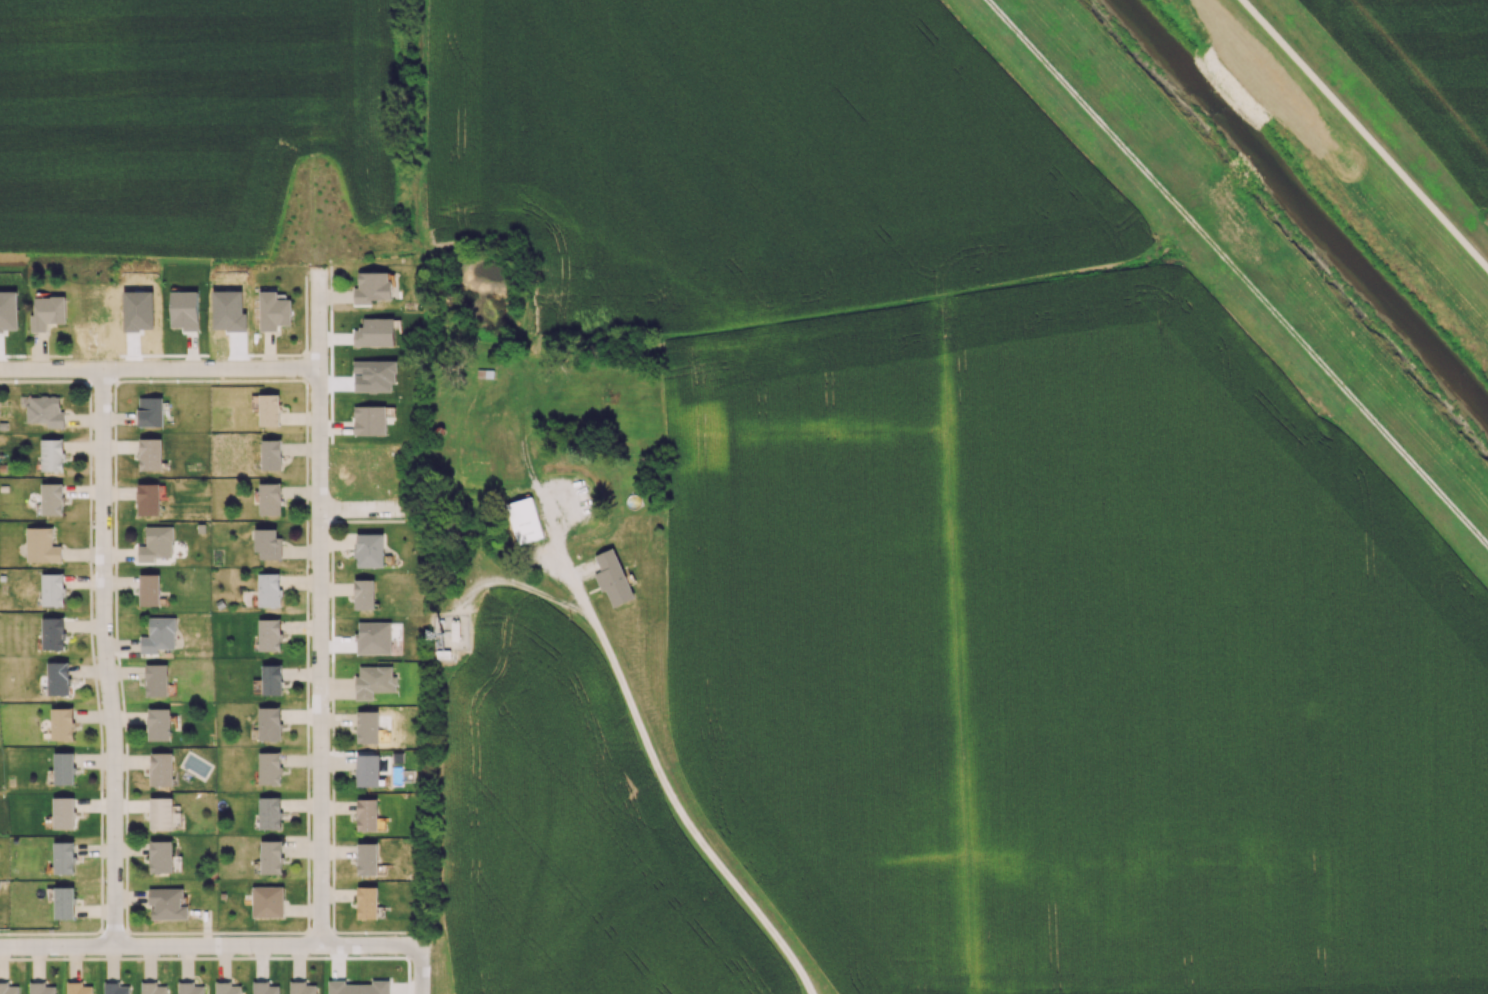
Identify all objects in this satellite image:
crop: (1428, 66)
road: (1366, 133)
river: (1303, 203)
building: (372, 287)
building: (184, 309)
building: (273, 310)
building: (47, 312)
building: (375, 332)
road: (161, 370)
building: (267, 408)
building: (43, 410)
building: (150, 411)
building: (370, 420)
building: (150, 454)
building: (271, 454)
building: (52, 455)
building: (269, 498)
building: (52, 499)
building: (148, 499)
road: (365, 512)
building: (524, 519)
building: (156, 544)
building: (267, 544)
building: (41, 545)
building: (370, 550)
road: (562, 556)
road: (582, 570)
building: (613, 578)
road: (518, 584)
building: (52, 589)
building: (149, 589)
building: (268, 589)
building: (364, 594)
road: (581, 597)
road: (320, 598)
building: (53, 633)
building: (159, 634)
building: (269, 634)
building: (374, 637)
road: (104, 657)
building: (58, 678)
building: (156, 679)
building: (272, 679)
building: (374, 681)
building: (62, 723)
building: (159, 723)
building: (269, 723)
building: (367, 726)
building: (269, 767)
building: (64, 768)
building: (161, 768)
building: (367, 770)
building: (63, 812)
building: (269, 812)
building: (161, 813)
building: (367, 814)
road: (683, 817)
building: (161, 856)
building: (63, 857)
building: (271, 857)
building: (367, 858)
building: (267, 901)
building: (64, 902)
building: (367, 902)
building: (167, 903)
road: (209, 945)
road: (420, 970)
building: (359, 987)
building: (9, 988)
building: (40, 988)
building: (78, 988)
building: (115, 988)
building: (152, 988)
building: (190, 988)
building: (227, 988)
building: (264, 988)
building: (301, 988)

